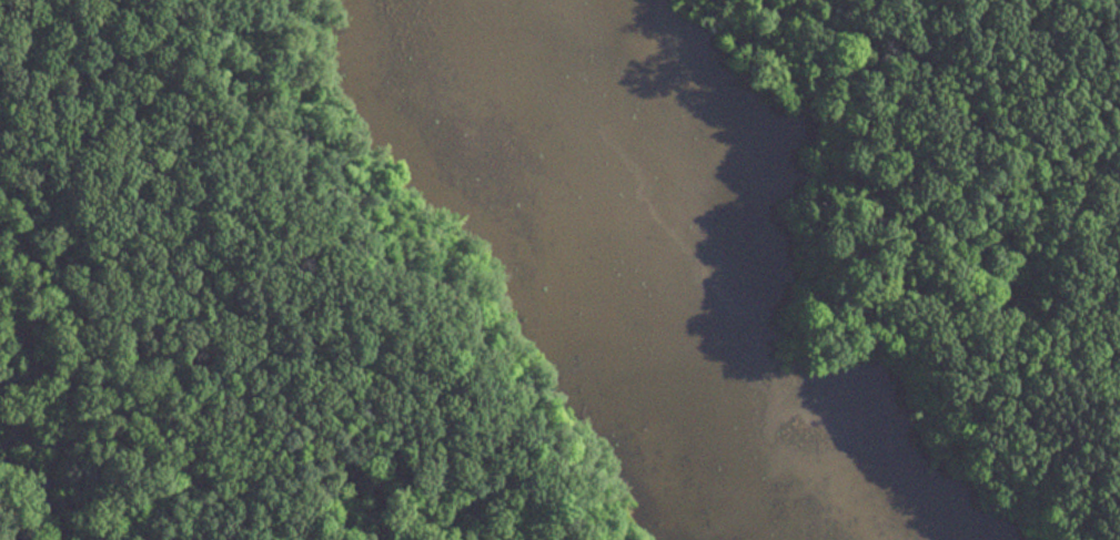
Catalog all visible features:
park: (559, 269)
road: (917, 304)
road: (925, 366)

